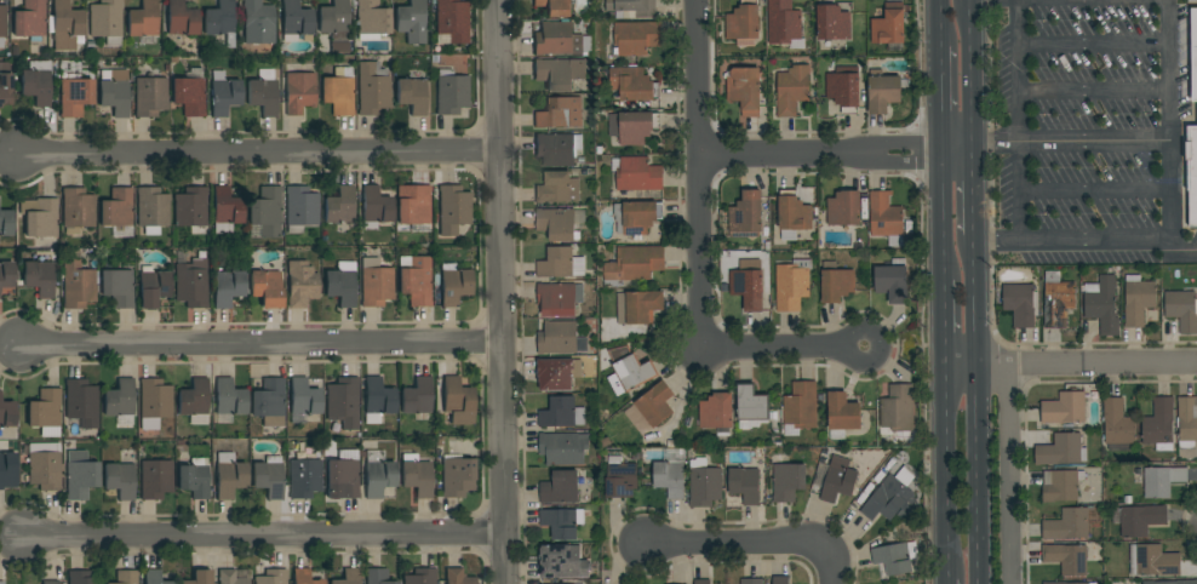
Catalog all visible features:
building: (555, 7)
building: (631, 8)
building: (181, 18)
building: (219, 18)
building: (29, 19)
building: (143, 19)
building: (371, 19)
building: (105, 21)
building: (452, 21)
building: (294, 22)
building: (411, 22)
building: (743, 22)
road: (937, 22)
building: (832, 23)
building: (2, 24)
building: (258, 24)
building: (334, 24)
building: (784, 24)
building: (889, 25)
building: (65, 27)
building: (636, 38)
building: (560, 40)
road: (1094, 46)
building: (1193, 53)
parking lot: (1090, 58)
road: (972, 70)
building: (559, 74)
building: (36, 82)
building: (5, 84)
building: (632, 85)
building: (372, 88)
building: (843, 88)
building: (744, 90)
building: (791, 90)
building: (263, 92)
building: (299, 92)
building: (451, 92)
building: (884, 92)
road: (1094, 92)
building: (115, 93)
building: (223, 93)
building: (337, 95)
building: (75, 96)
building: (189, 96)
building: (412, 96)
building: (150, 97)
road: (939, 99)
building: (561, 113)
road: (1020, 120)
road: (1169, 120)
building: (1189, 122)
building: (632, 126)
road: (1095, 141)
road: (996, 142)
building: (557, 149)
road: (258, 155)
road: (837, 155)
building: (1190, 171)
building: (638, 174)
road: (699, 174)
building: (554, 188)
road: (974, 189)
parking lot: (1077, 190)
road: (1095, 191)
building: (412, 205)
building: (339, 206)
building: (374, 207)
building: (116, 208)
building: (300, 208)
building: (453, 208)
building: (843, 208)
building: (78, 210)
building: (151, 210)
building: (191, 210)
building: (225, 210)
building: (267, 211)
building: (745, 216)
building: (792, 216)
building: (39, 217)
building: (636, 217)
building: (886, 217)
road: (943, 217)
building: (5, 223)
building: (557, 224)
road: (1096, 241)
road: (998, 242)
road: (1182, 247)
building: (561, 263)
building: (634, 264)
building: (6, 274)
building: (39, 277)
building: (416, 281)
building: (893, 281)
building: (76, 282)
building: (374, 282)
building: (836, 282)
building: (191, 284)
building: (300, 284)
building: (748, 284)
building: (453, 285)
building: (118, 287)
building: (228, 287)
building: (339, 287)
building: (791, 287)
building: (154, 288)
building: (265, 288)
road: (502, 291)
building: (559, 298)
building: (1058, 300)
building: (1138, 300)
building: (1021, 304)
building: (1101, 304)
building: (641, 305)
building: (1181, 310)
road: (945, 321)
building: (560, 338)
road: (259, 345)
road: (783, 349)
road: (1071, 363)
building: (634, 372)
building: (555, 374)
building: (378, 396)
building: (417, 396)
building: (457, 396)
building: (229, 397)
building: (303, 397)
building: (119, 399)
building: (194, 401)
building: (81, 402)
building: (154, 402)
building: (269, 402)
building: (343, 402)
building: (751, 403)
building: (655, 405)
building: (800, 408)
building: (898, 408)
building: (1064, 408)
road: (979, 410)
building: (716, 411)
building: (45, 412)
building: (843, 412)
building: (7, 413)
building: (562, 413)
building: (1187, 422)
building: (1117, 423)
building: (1159, 425)
building: (563, 448)
building: (1060, 451)
building: (894, 459)
building: (45, 465)
building: (7, 470)
road: (947, 470)
building: (304, 473)
building: (671, 473)
building: (378, 474)
road: (1007, 474)
building: (80, 475)
building: (417, 475)
building: (229, 476)
building: (342, 476)
building: (194, 477)
building: (268, 477)
building: (457, 477)
building: (620, 477)
building: (155, 479)
building: (119, 480)
building: (838, 480)
building: (1162, 481)
building: (787, 482)
building: (704, 483)
building: (745, 485)
building: (1060, 486)
building: (560, 488)
building: (888, 499)
building: (1140, 519)
building: (562, 522)
building: (1067, 525)
road: (263, 537)
road: (728, 545)
building: (895, 557)
building: (1067, 559)
road: (832, 560)
building: (560, 561)
building: (1153, 561)
building: (81, 577)
building: (126, 577)
building: (154, 577)
building: (200, 577)
building: (229, 577)
building: (271, 577)
building: (303, 577)
building: (348, 577)
building: (377, 577)
building: (420, 577)
building: (457, 577)
building: (780, 579)
road: (949, 580)
building: (50, 582)
building: (703, 582)
building: (751, 582)
building: (1170, 582)
building: (1, 583)
building: (1053, 583)
building: (1086, 583)

